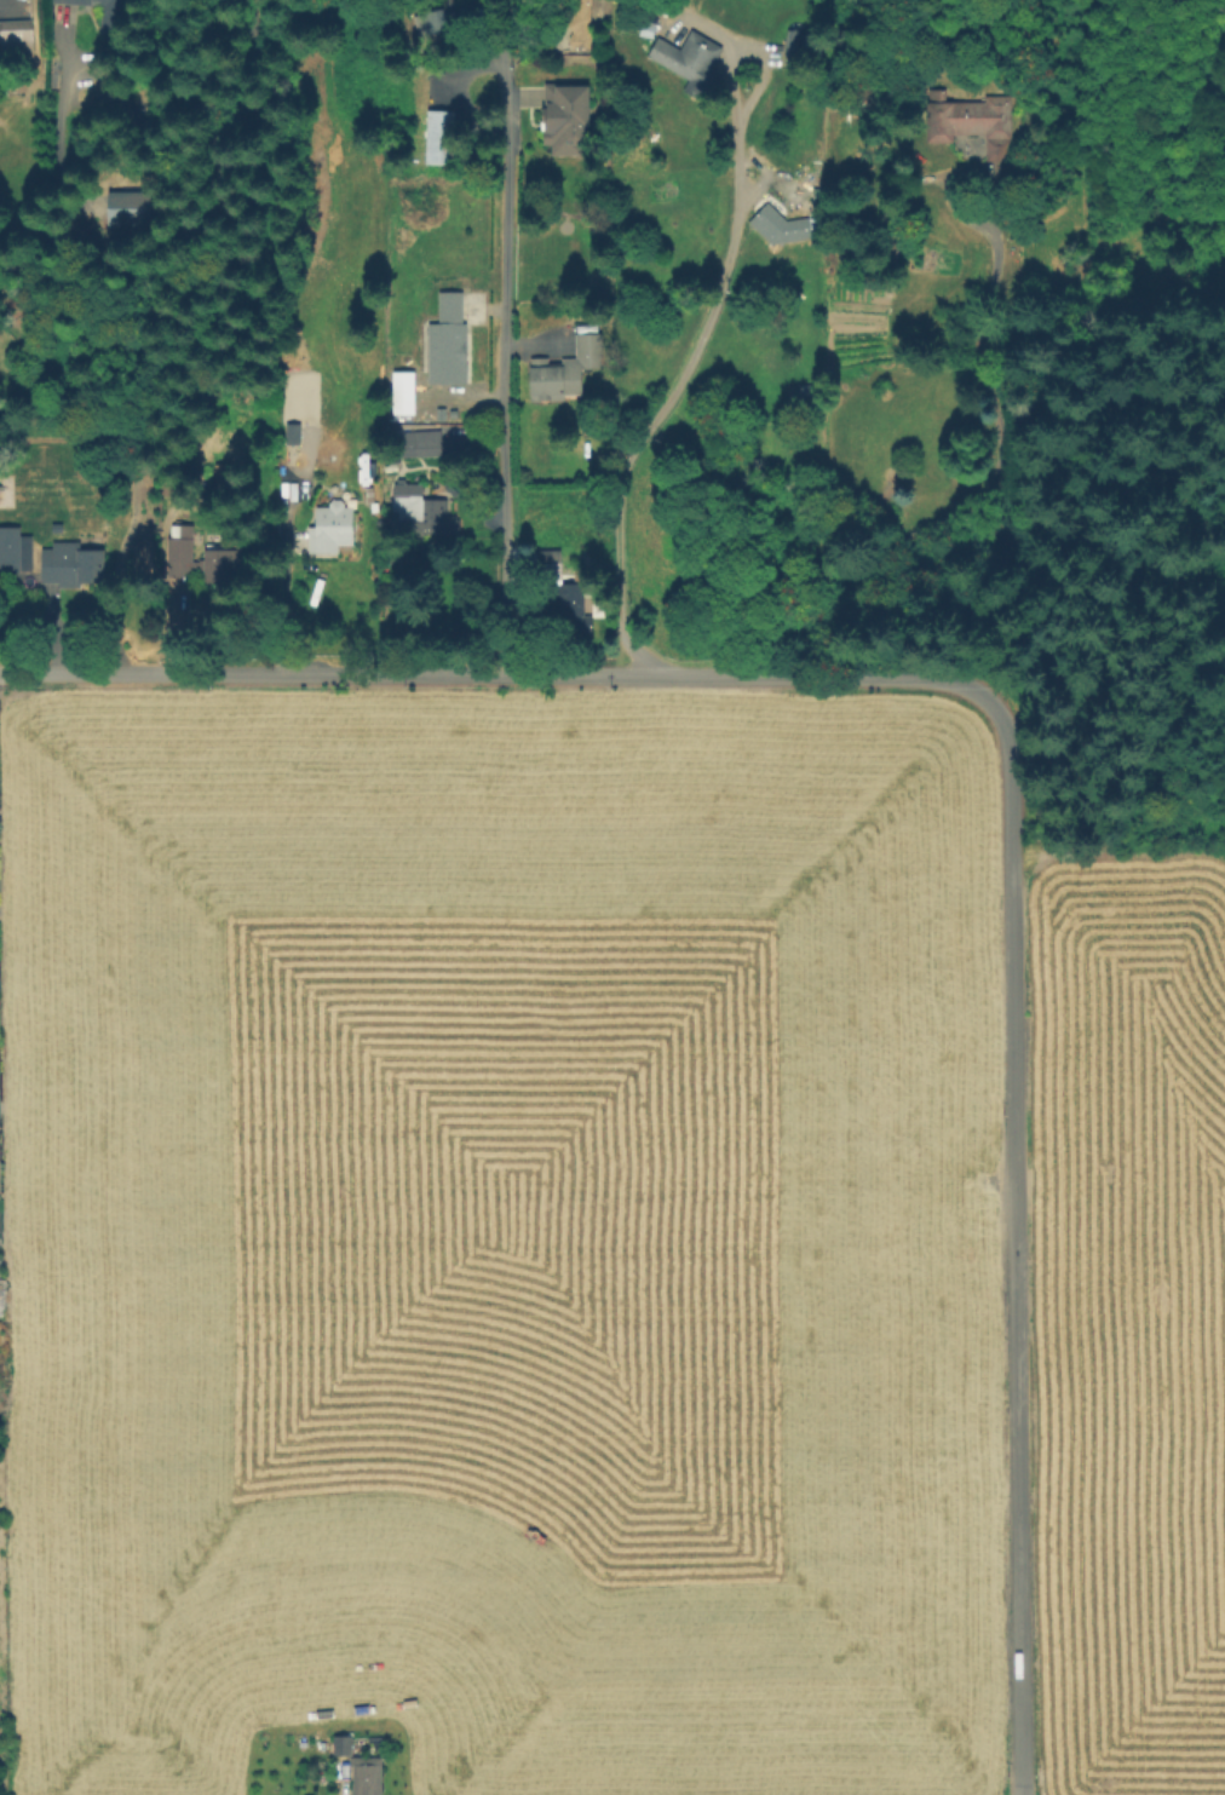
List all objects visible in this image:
building: (108, 19)
building: (430, 23)
building: (581, 23)
building: (649, 27)
building: (17, 41)
building: (795, 42)
building: (691, 63)
building: (567, 116)
building: (970, 121)
building: (439, 136)
road: (54, 161)
building: (780, 226)
road: (510, 339)
building: (448, 343)
building: (588, 351)
road: (684, 374)
building: (546, 378)
building: (404, 392)
building: (301, 395)
building: (416, 445)
road: (997, 445)
building: (372, 500)
building: (418, 510)
building: (332, 529)
building: (15, 551)
building: (180, 551)
building: (70, 565)
building: (217, 566)
road: (284, 592)
building: (563, 597)
road: (495, 678)
road: (1011, 1244)
building: (343, 1745)
building: (367, 1776)

